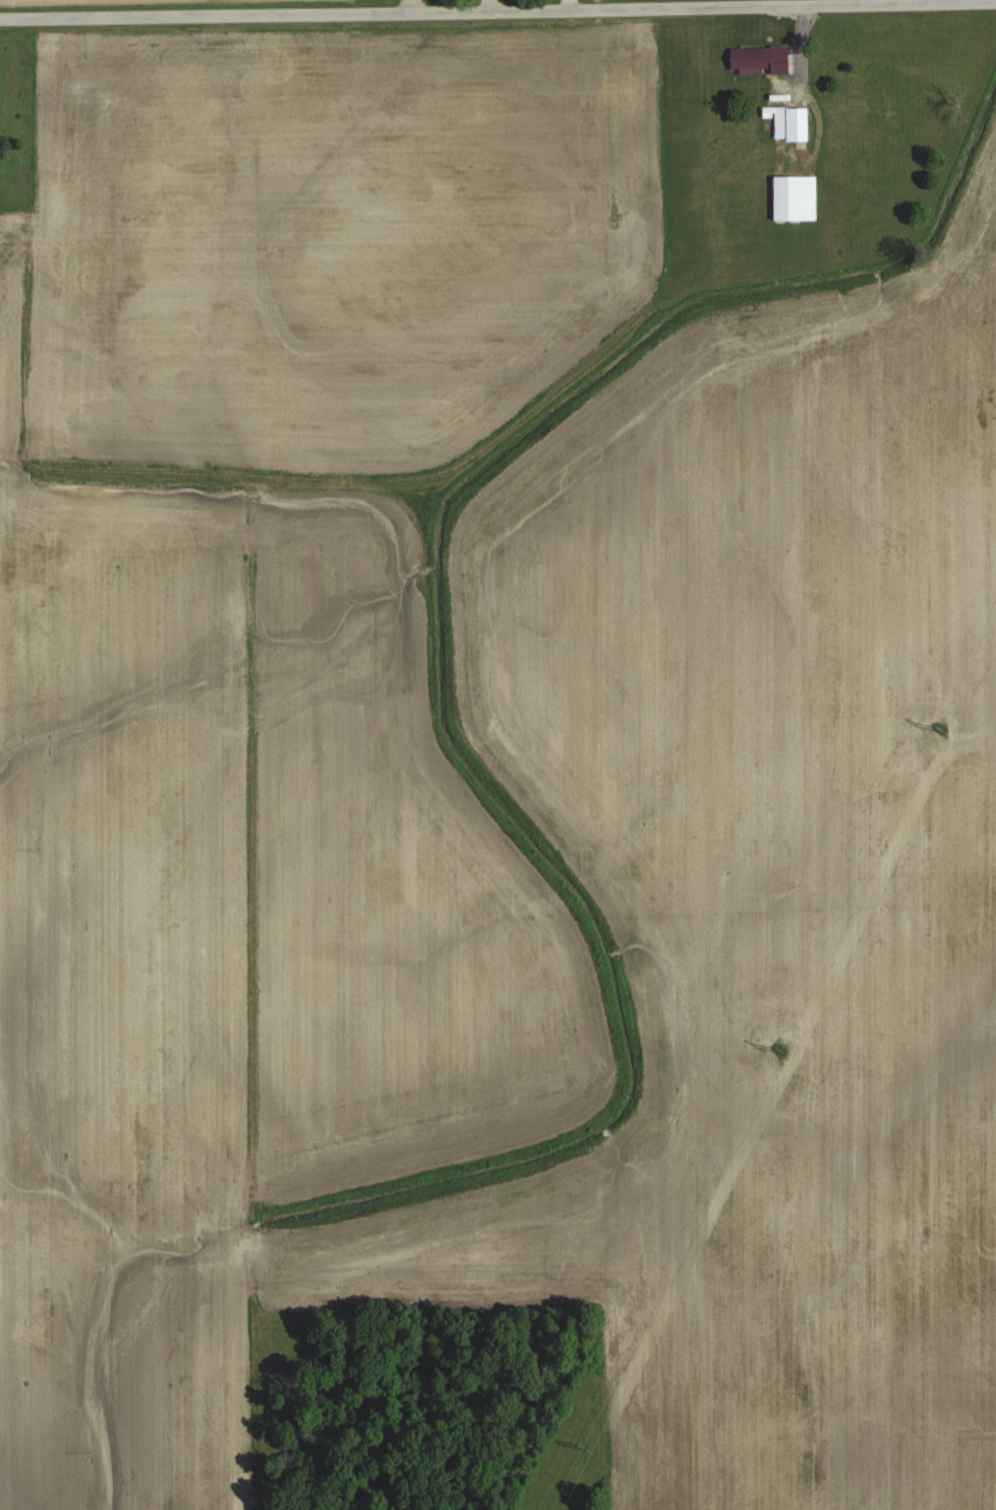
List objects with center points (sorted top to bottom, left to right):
road: (207, 5)
building: (759, 59)
building: (789, 121)
building: (788, 197)
power tower: (940, 730)
power tower: (781, 1050)
power tower: (582, 1447)

